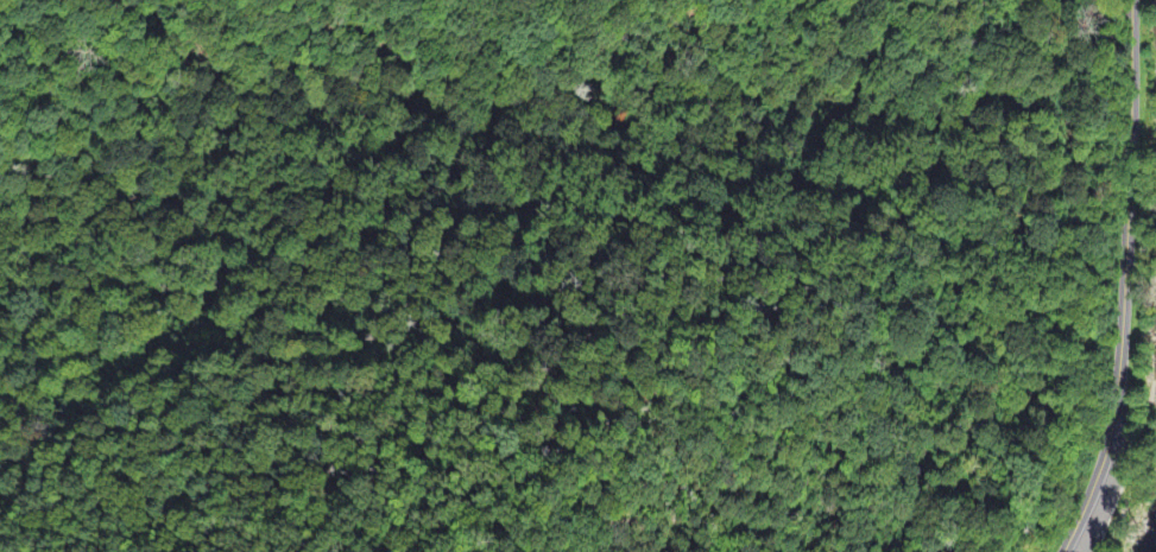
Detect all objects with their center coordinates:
road: (1123, 280)
river: (1148, 535)

